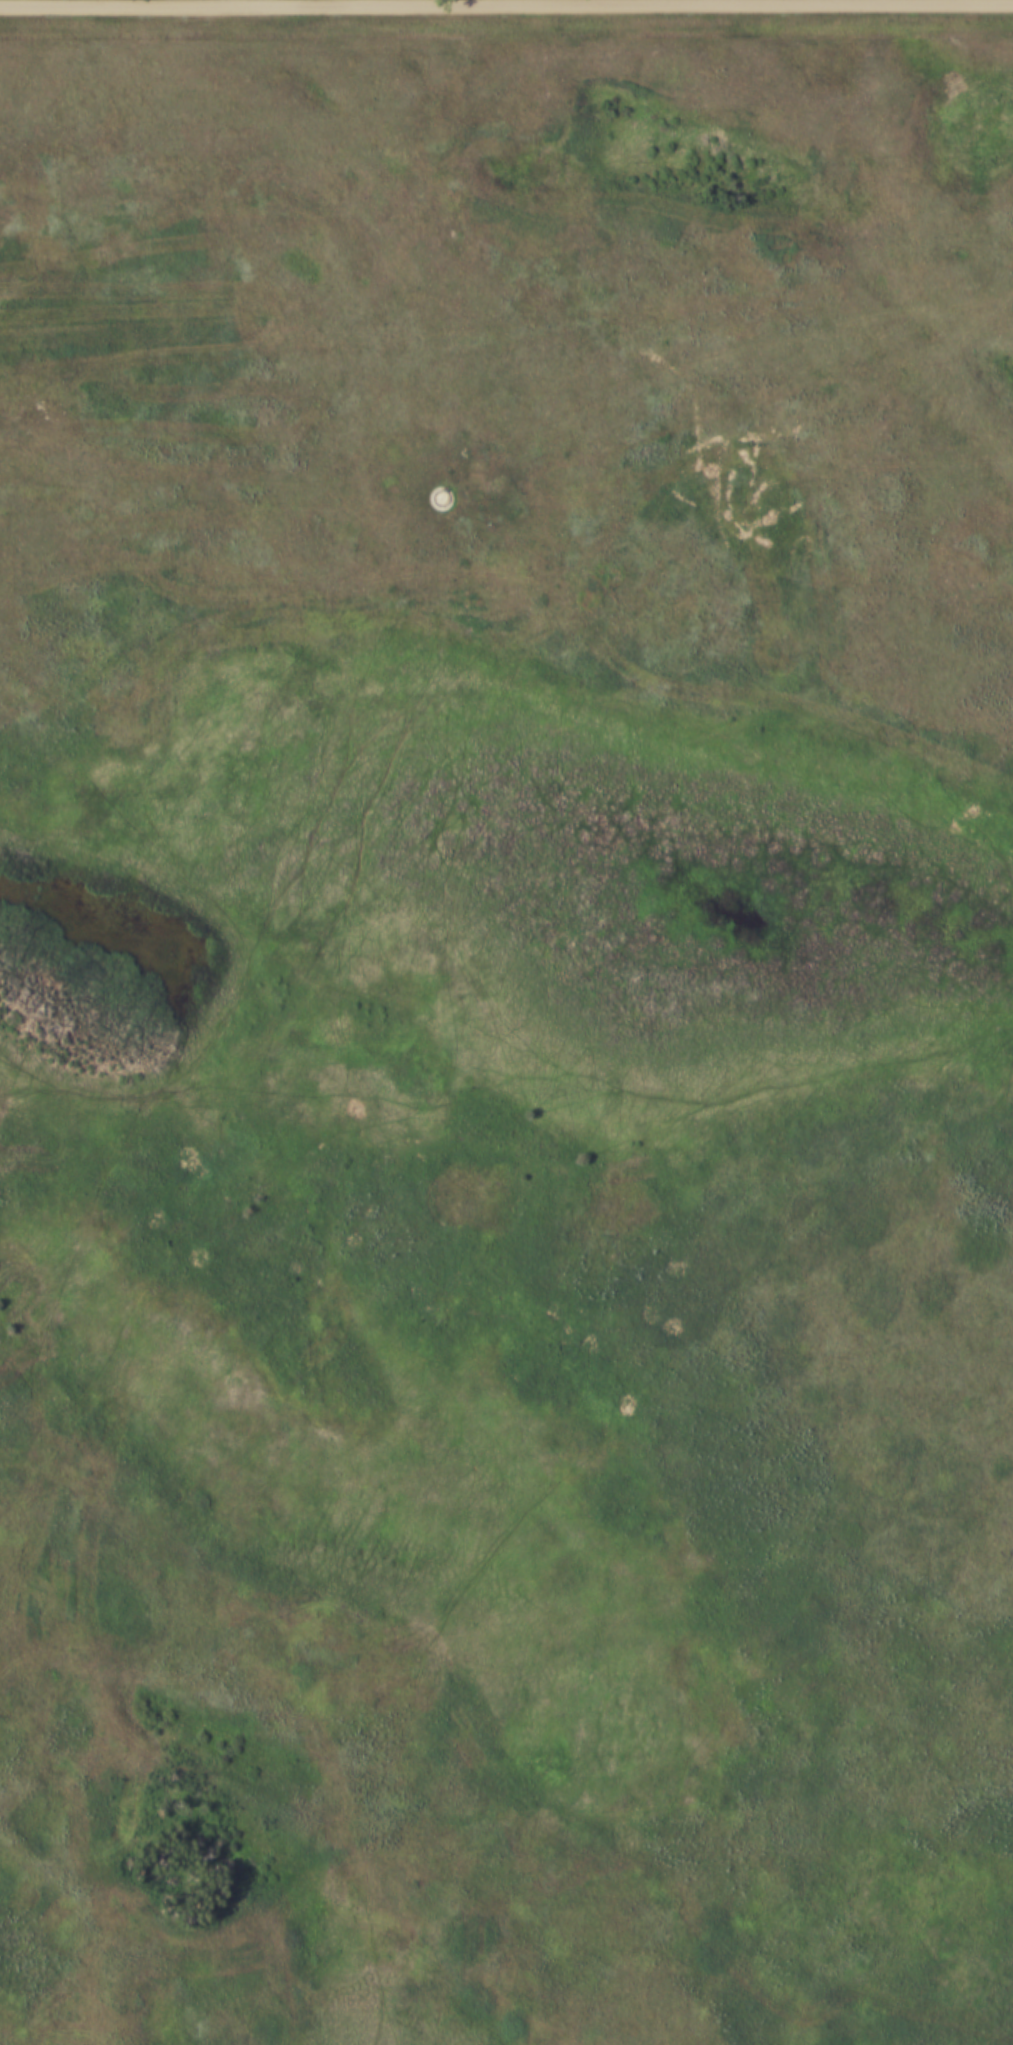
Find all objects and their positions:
road: (230, 1)

